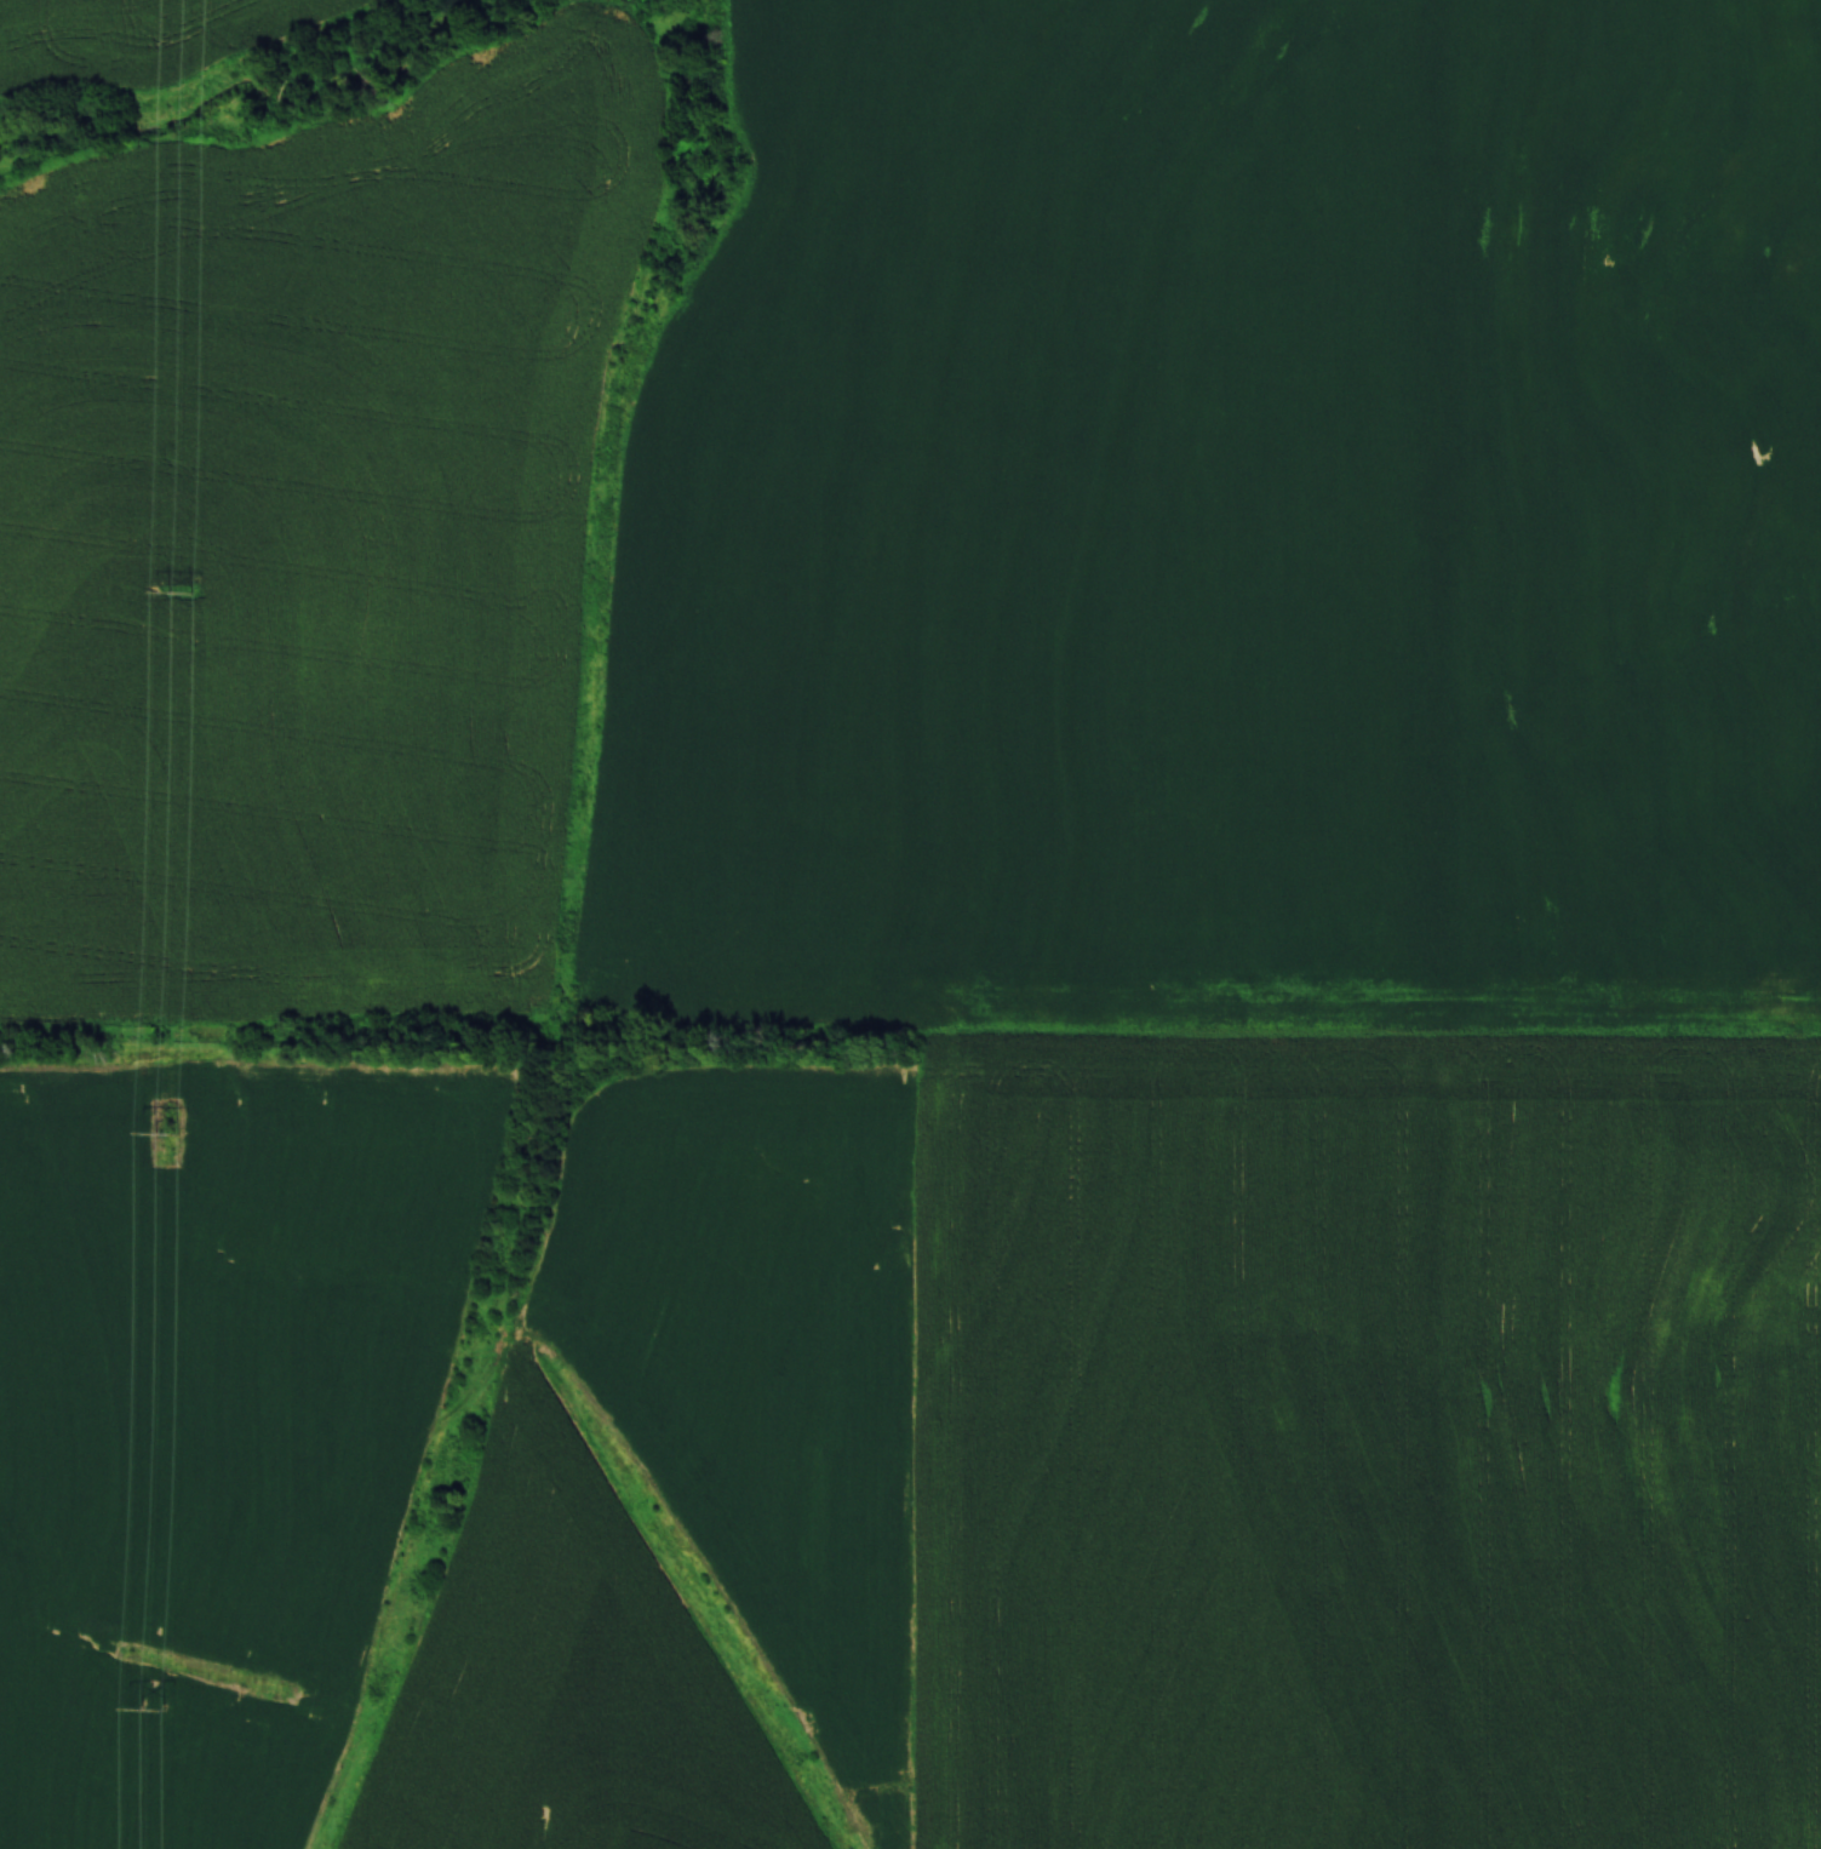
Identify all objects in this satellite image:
power tower: (181, 593)
power tower: (170, 1132)
power tower: (156, 1710)

